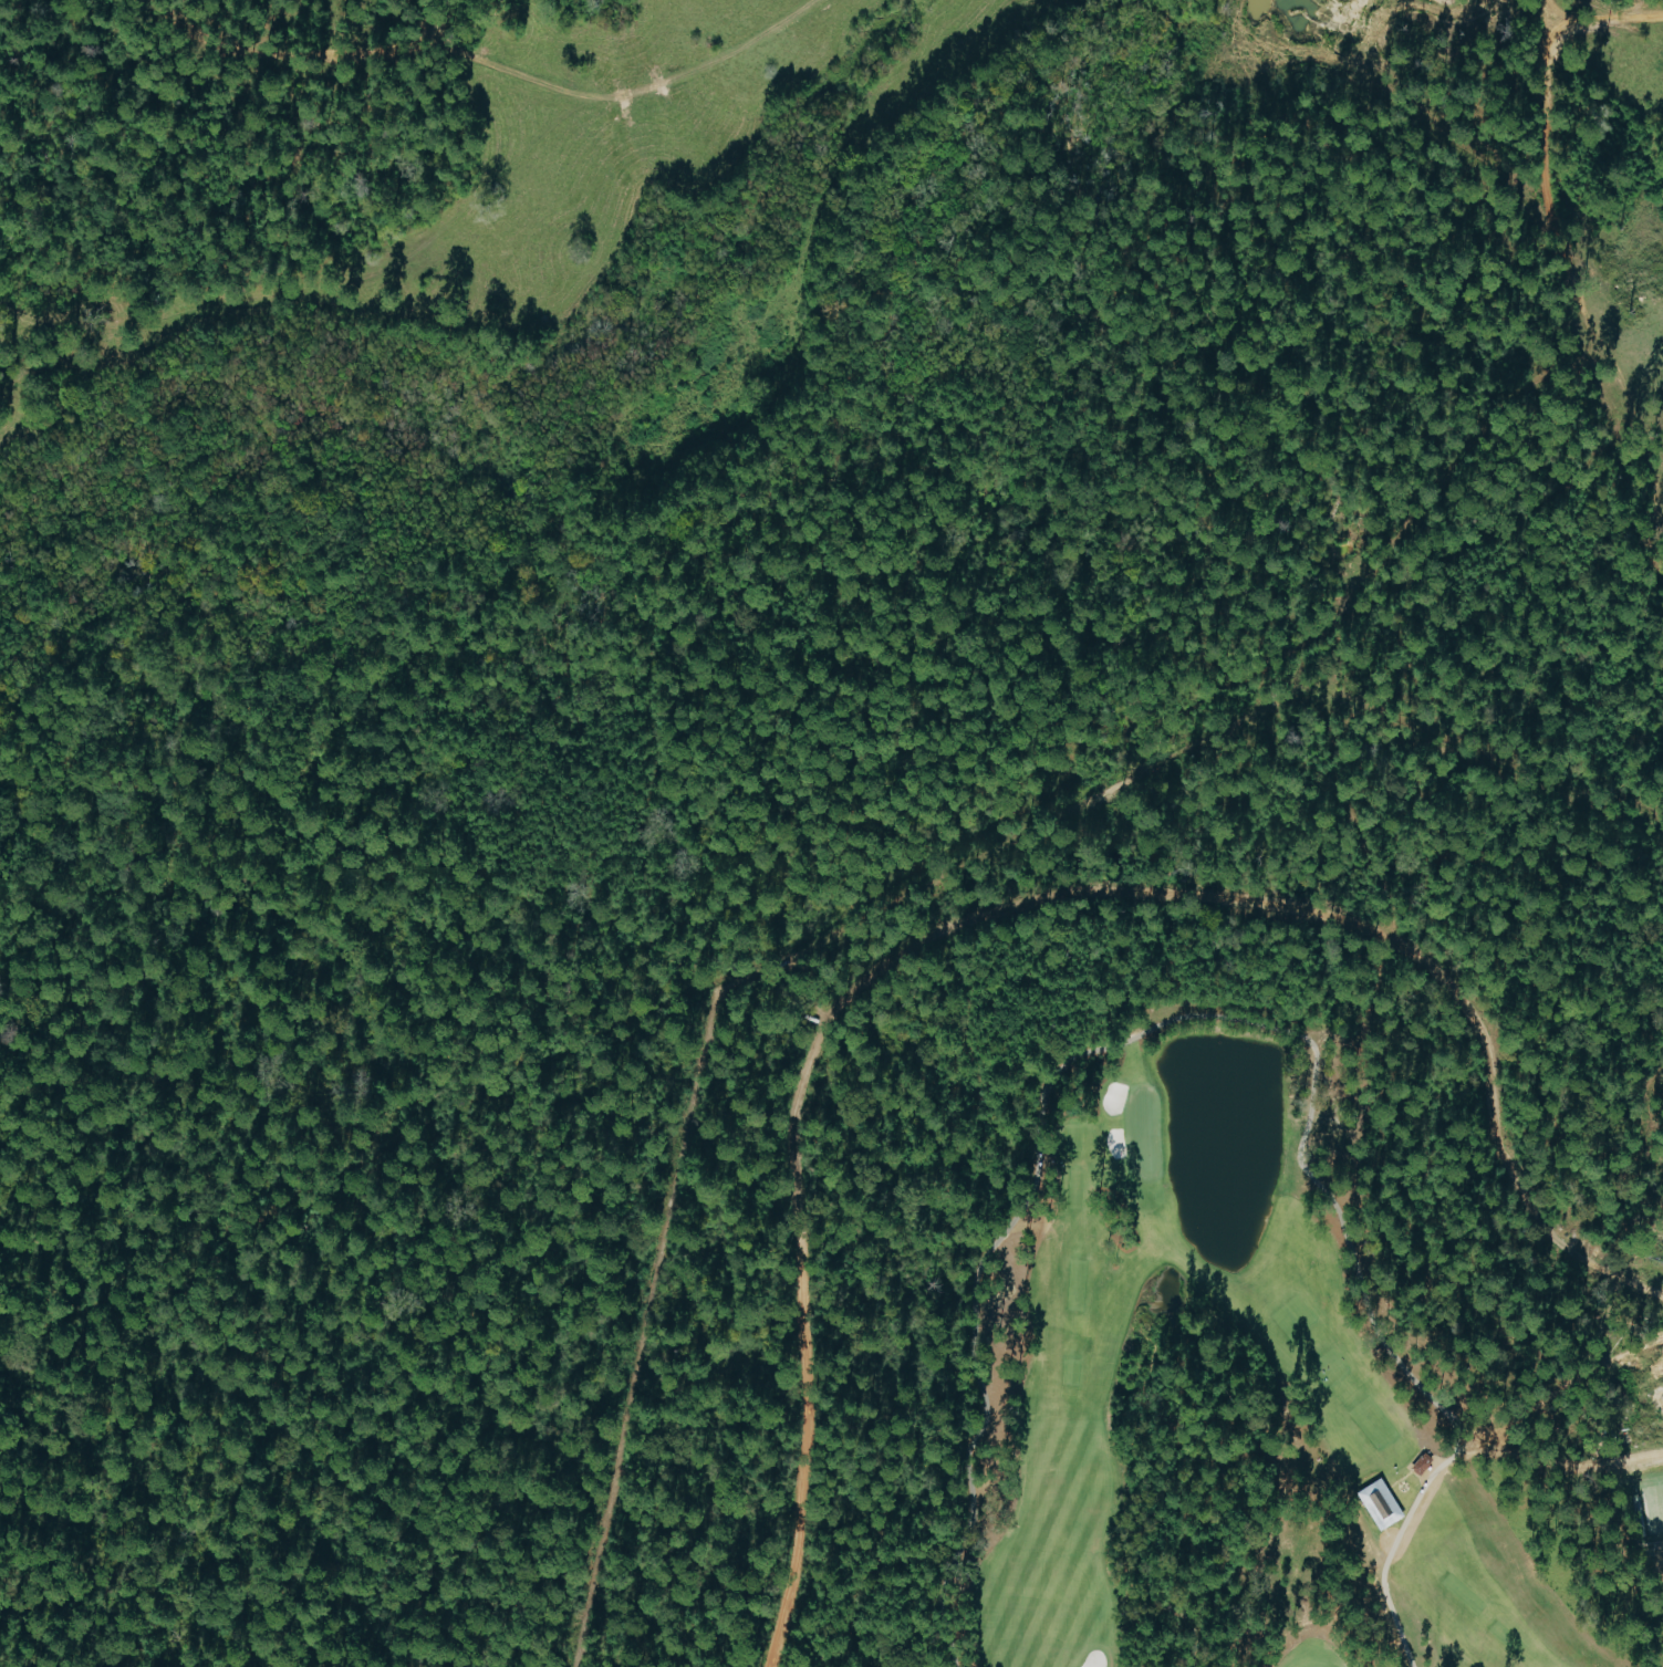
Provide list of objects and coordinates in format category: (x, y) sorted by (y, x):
road: (1016, 103)
park: (1009, 1330)
park: (1482, 1336)
building: (1427, 1469)
park: (1214, 1492)
building: (1382, 1503)

